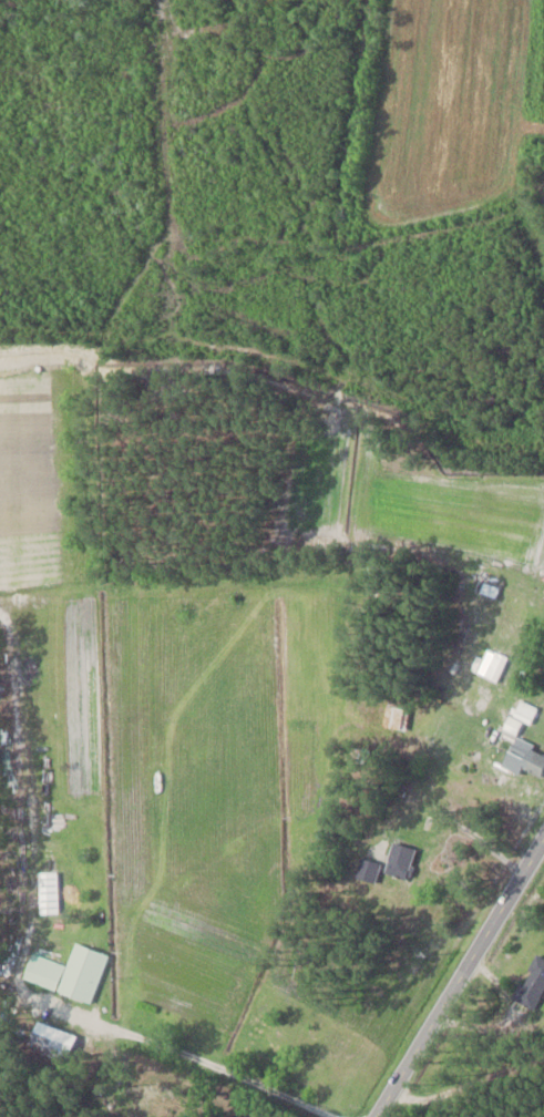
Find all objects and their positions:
building: (489, 588)
building: (394, 717)
building: (525, 756)
building: (388, 863)
building: (47, 891)
building: (82, 972)
road: (460, 977)
building: (531, 982)
building: (49, 1039)
building: (249, 1114)

